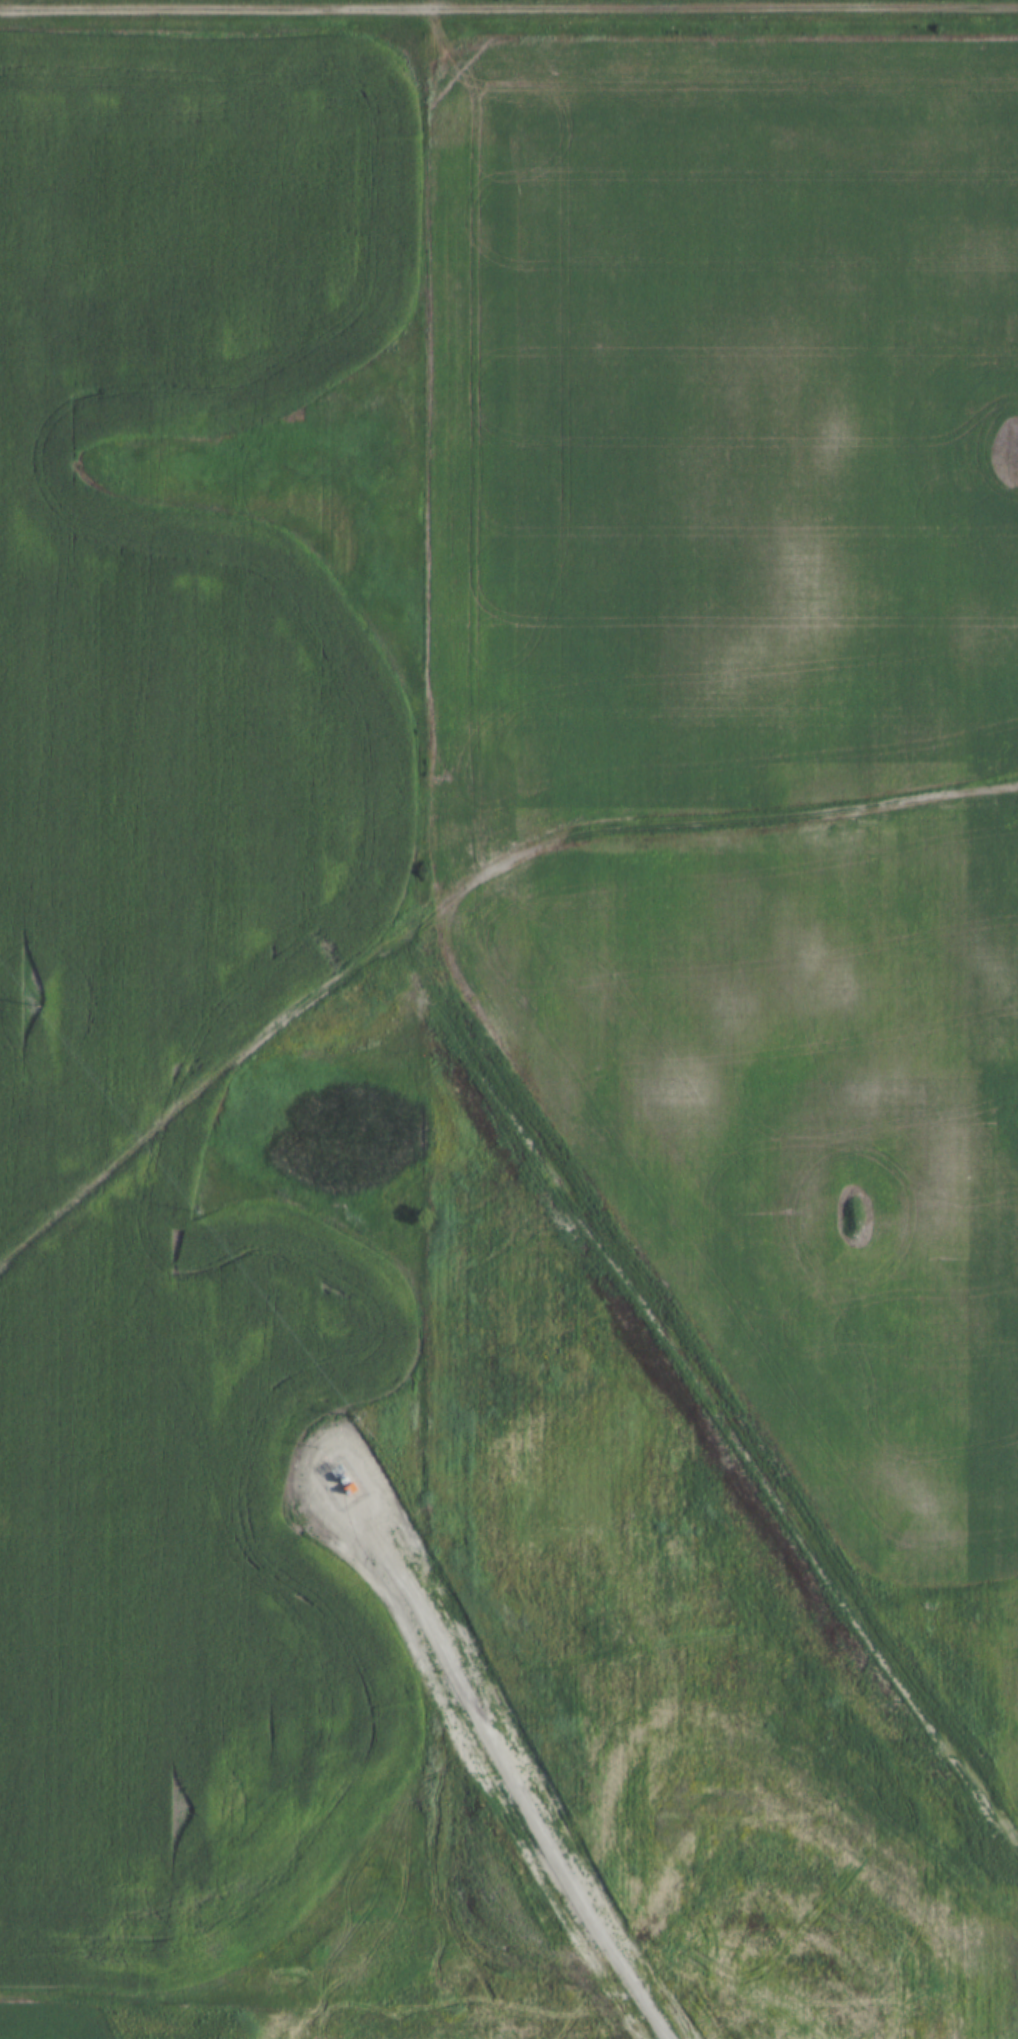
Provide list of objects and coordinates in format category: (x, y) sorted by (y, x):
road: (509, 7)

